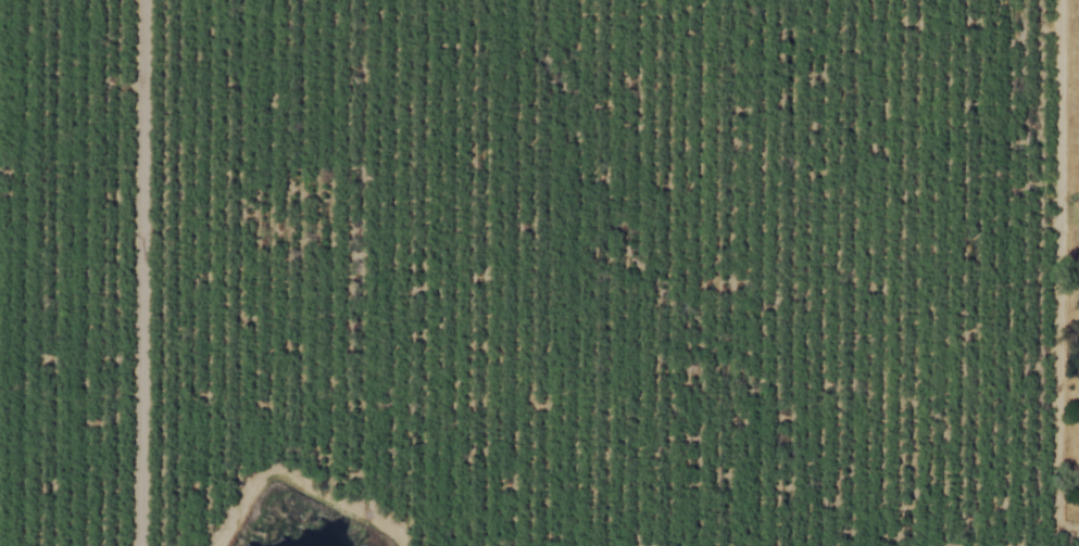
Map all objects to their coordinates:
road: (735, 272)

